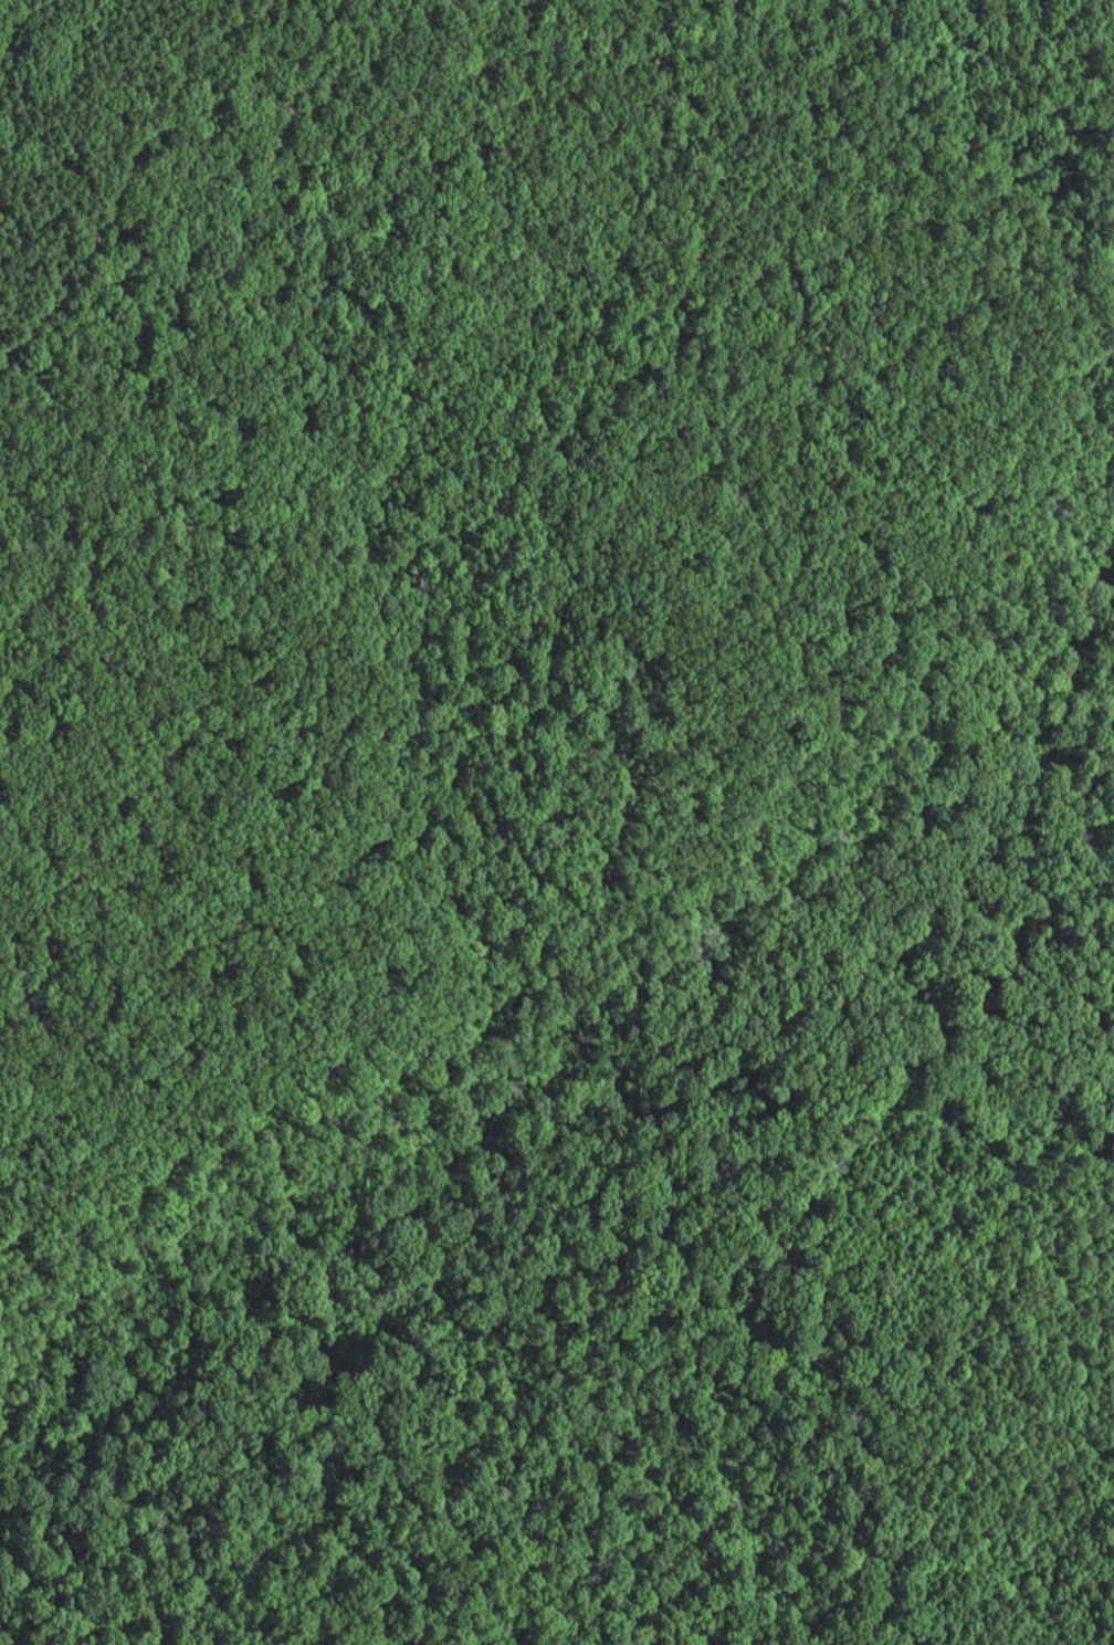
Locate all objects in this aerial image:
road: (177, 181)

